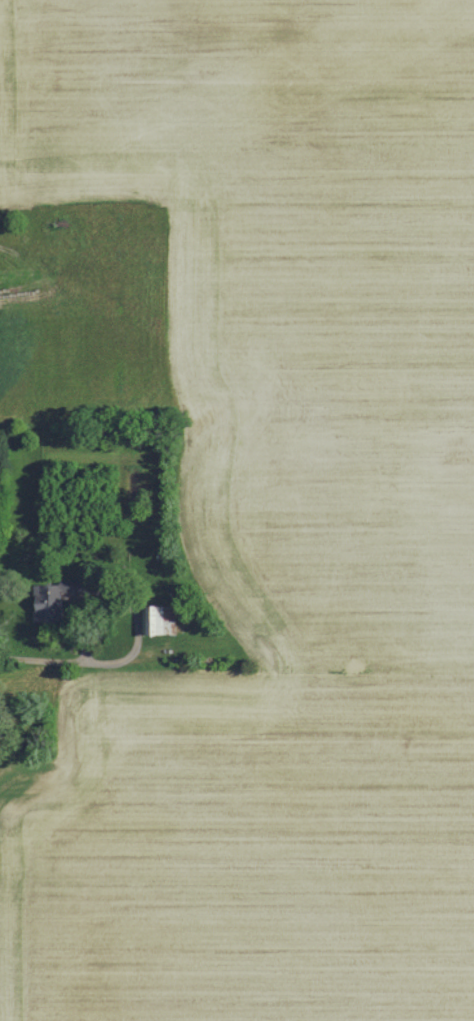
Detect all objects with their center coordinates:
building: (70, 585)
building: (50, 604)
road: (117, 661)

